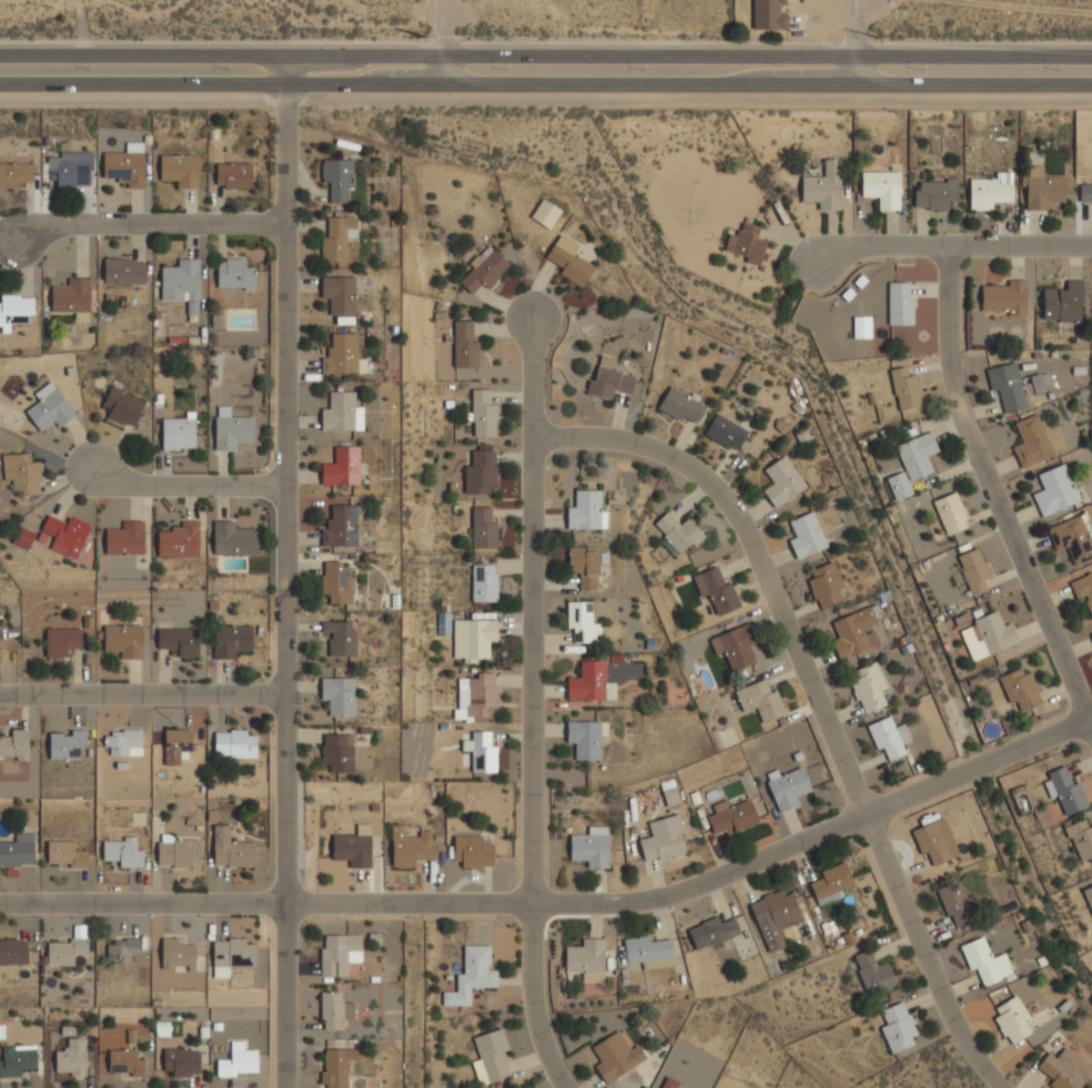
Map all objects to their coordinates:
building: (769, 13)
power tower: (422, 33)
power tower: (874, 37)
road: (448, 42)
road: (860, 42)
road: (546, 57)
road: (545, 85)
road: (545, 98)
building: (127, 164)
building: (180, 170)
building: (69, 171)
building: (17, 173)
building: (233, 175)
building: (337, 179)
building: (823, 187)
building: (881, 189)
building: (1041, 189)
building: (990, 192)
building: (1085, 193)
building: (934, 194)
building: (545, 214)
road: (150, 224)
building: (337, 238)
building: (746, 244)
road: (954, 245)
building: (568, 261)
building: (124, 268)
building: (484, 270)
building: (234, 273)
building: (182, 279)
building: (72, 295)
building: (340, 295)
building: (1005, 297)
building: (1063, 302)
building: (900, 304)
building: (16, 308)
building: (861, 327)
building: (465, 346)
building: (343, 356)
building: (608, 380)
building: (1008, 386)
building: (904, 389)
building: (122, 406)
building: (680, 406)
building: (50, 407)
building: (341, 413)
building: (483, 415)
building: (231, 428)
building: (179, 431)
building: (726, 433)
building: (1032, 441)
building: (917, 456)
building: (342, 467)
building: (22, 472)
building: (479, 474)
building: (782, 481)
building: (899, 486)
road: (183, 487)
building: (1055, 489)
road: (993, 491)
building: (587, 509)
building: (950, 514)
building: (341, 527)
building: (483, 529)
building: (63, 533)
building: (677, 533)
building: (806, 536)
building: (125, 537)
building: (22, 538)
building: (233, 538)
building: (1072, 538)
building: (179, 539)
building: (588, 566)
building: (973, 570)
road: (284, 572)
building: (336, 582)
building: (484, 583)
building: (825, 584)
building: (1083, 588)
building: (717, 589)
building: (582, 622)
building: (855, 633)
building: (1091, 634)
building: (988, 637)
building: (340, 638)
building: (123, 639)
building: (473, 639)
building: (61, 640)
building: (179, 640)
building: (231, 640)
building: (736, 645)
building: (589, 681)
building: (868, 688)
building: (1020, 689)
building: (338, 695)
road: (819, 695)
road: (142, 696)
building: (476, 696)
building: (761, 699)
road: (532, 709)
building: (586, 738)
building: (889, 738)
building: (120, 740)
building: (178, 740)
building: (14, 743)
building: (235, 743)
building: (67, 744)
building: (481, 752)
building: (337, 753)
building: (788, 785)
building: (1063, 789)
building: (670, 793)
building: (732, 816)
building: (664, 838)
building: (1081, 841)
building: (932, 845)
building: (591, 846)
building: (411, 847)
building: (231, 848)
building: (18, 850)
building: (352, 850)
building: (123, 851)
building: (178, 851)
building: (473, 852)
building: (64, 853)
building: (830, 883)
building: (1089, 896)
road: (564, 903)
building: (956, 904)
building: (774, 917)
building: (715, 931)
building: (64, 949)
building: (122, 949)
building: (645, 949)
building: (13, 952)
building: (340, 953)
building: (231, 954)
building: (175, 955)
building: (586, 959)
building: (984, 962)
building: (872, 972)
building: (472, 977)
building: (334, 1009)
building: (1012, 1019)
building: (897, 1026)
building: (491, 1056)
building: (615, 1056)
building: (71, 1058)
building: (17, 1059)
building: (237, 1060)
building: (181, 1061)
building: (124, 1062)
building: (335, 1066)
building: (1063, 1069)
building: (667, 1082)

